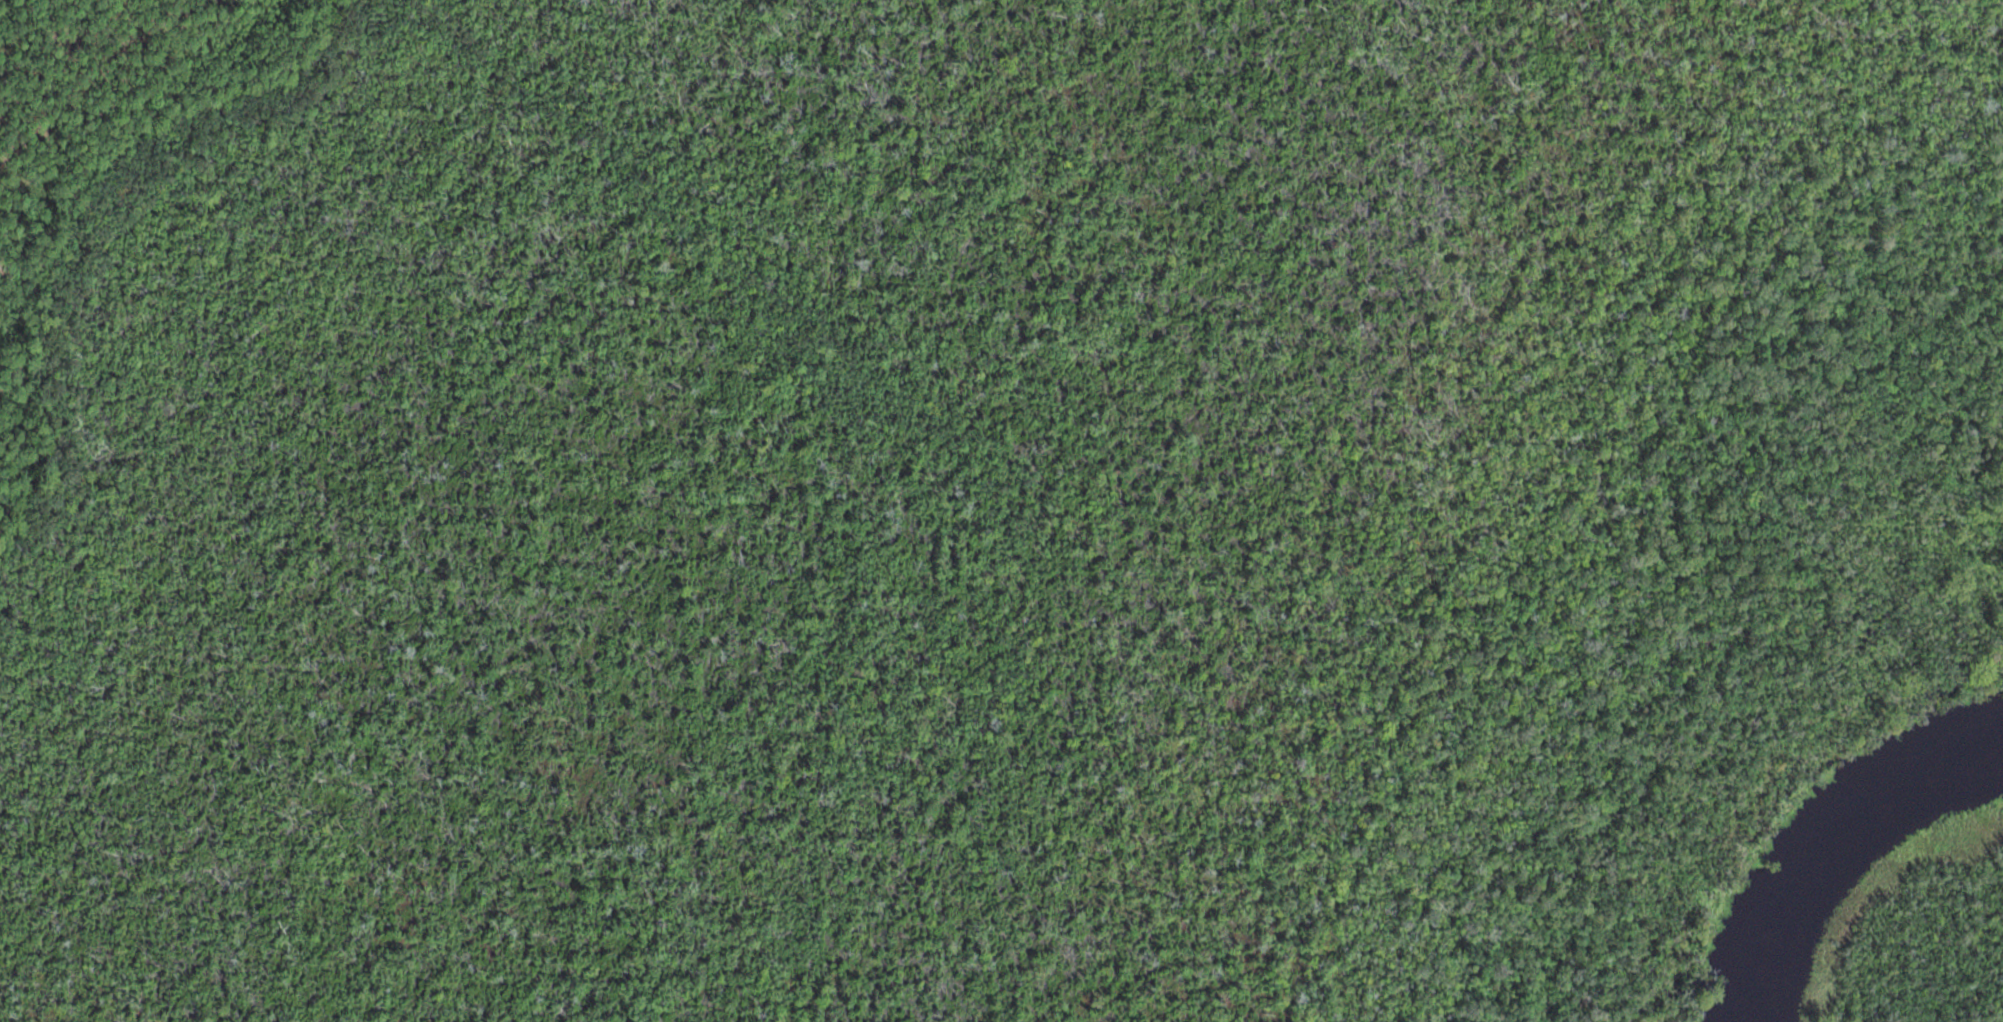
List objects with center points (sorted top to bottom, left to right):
road: (93, 66)

